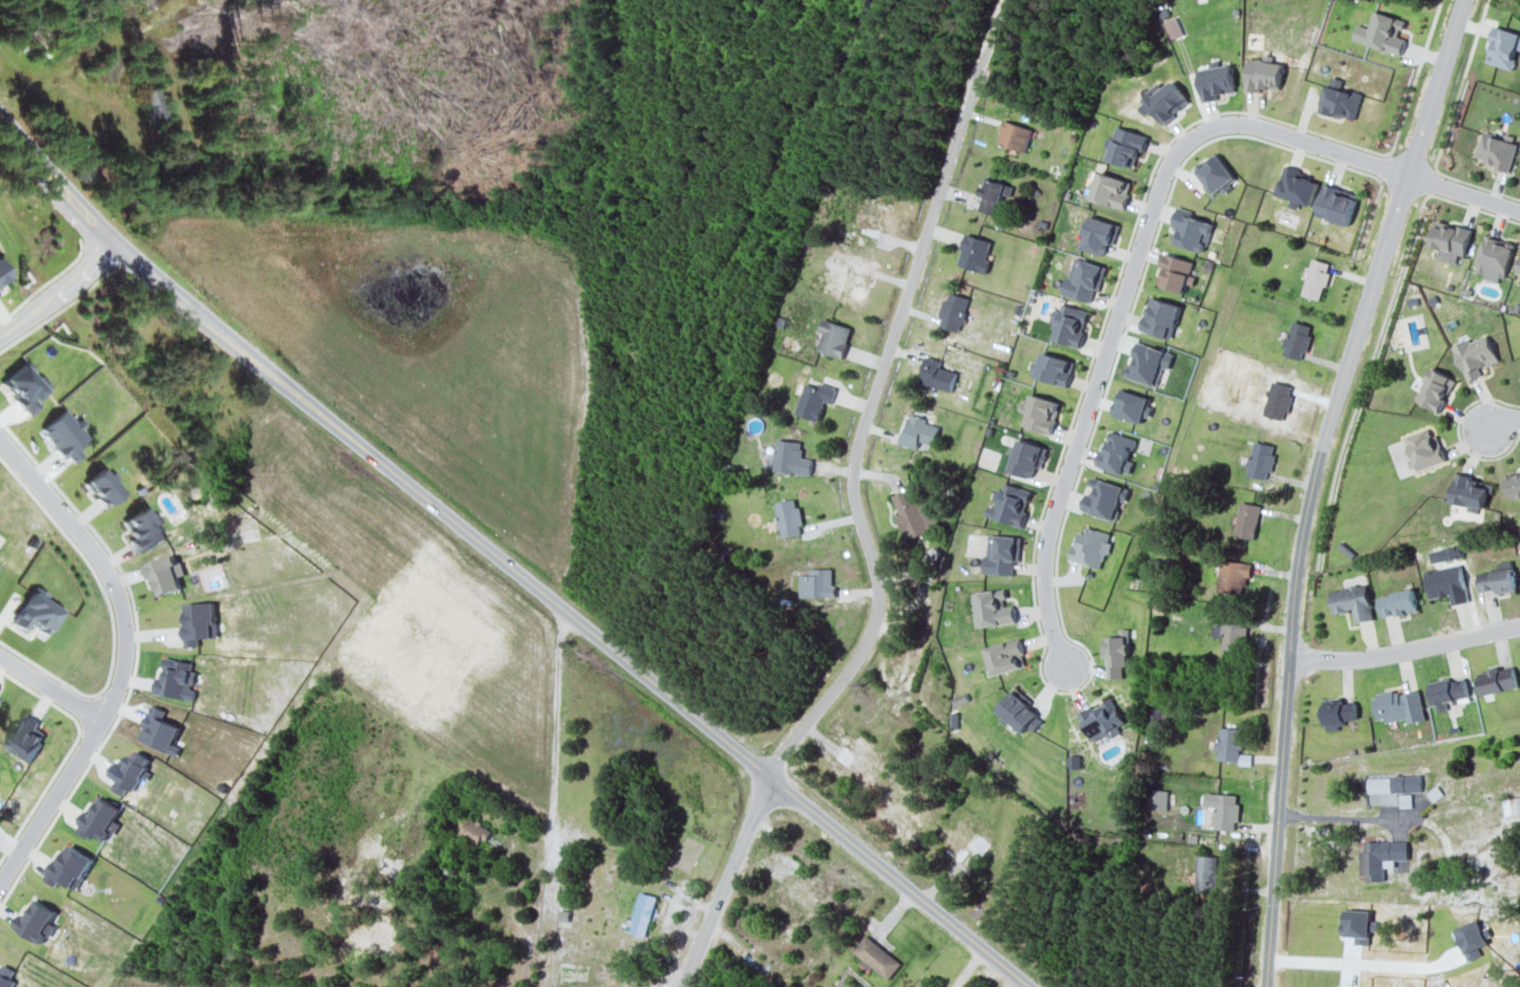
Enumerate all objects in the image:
building: (1173, 27)
building: (1382, 32)
building: (1503, 47)
building: (1264, 74)
building: (1216, 81)
building: (1340, 100)
building: (1167, 101)
building: (1015, 135)
building: (1127, 146)
building: (1496, 151)
building: (1216, 173)
building: (1297, 186)
building: (1111, 190)
road: (1464, 193)
building: (993, 195)
building: (1337, 203)
building: (873, 219)
building: (1100, 234)
building: (1451, 237)
building: (976, 253)
building: (1494, 259)
building: (1177, 272)
building: (1519, 272)
building: (4, 276)
building: (1316, 278)
building: (854, 279)
building: (1084, 279)
road: (56, 285)
road: (1127, 287)
building: (954, 311)
building: (1161, 317)
building: (1070, 325)
building: (834, 337)
building: (1297, 339)
building: (1475, 355)
building: (1148, 362)
building: (1055, 368)
building: (938, 374)
building: (1435, 389)
building: (815, 399)
building: (1132, 405)
building: (1040, 413)
road: (1504, 423)
building: (920, 429)
building: (65, 436)
building: (1425, 449)
building: (1117, 452)
building: (791, 457)
building: (1027, 457)
building: (1261, 459)
road: (1313, 483)
building: (1514, 484)
building: (103, 488)
building: (1470, 492)
building: (1102, 498)
building: (1010, 504)
building: (913, 511)
building: (789, 517)
building: (1248, 520)
building: (144, 529)
road: (866, 542)
building: (1091, 546)
building: (1003, 555)
road: (503, 560)
building: (164, 573)
building: (1233, 575)
building: (1499, 578)
building: (818, 583)
building: (1448, 583)
building: (1353, 601)
building: (1398, 602)
building: (992, 608)
building: (38, 613)
building: (198, 621)
building: (1234, 636)
road: (122, 649)
road: (1405, 649)
building: (1117, 653)
building: (1006, 656)
building: (176, 679)
building: (1498, 679)
road: (52, 682)
building: (1448, 692)
building: (960, 699)
building: (1400, 706)
building: (1019, 711)
building: (1338, 712)
building: (1102, 719)
building: (159, 730)
road: (555, 733)
building: (26, 738)
building: (1229, 743)
building: (856, 756)
building: (127, 772)
building: (1406, 783)
building: (1379, 784)
building: (1158, 799)
building: (905, 802)
building: (1512, 804)
building: (1224, 809)
road: (1338, 817)
building: (99, 818)
building: (476, 830)
building: (958, 839)
building: (978, 843)
building: (1382, 858)
building: (69, 866)
building: (1207, 872)
building: (800, 894)
building: (641, 915)
building: (36, 920)
building: (876, 956)
road: (1359, 962)
building: (6, 976)

